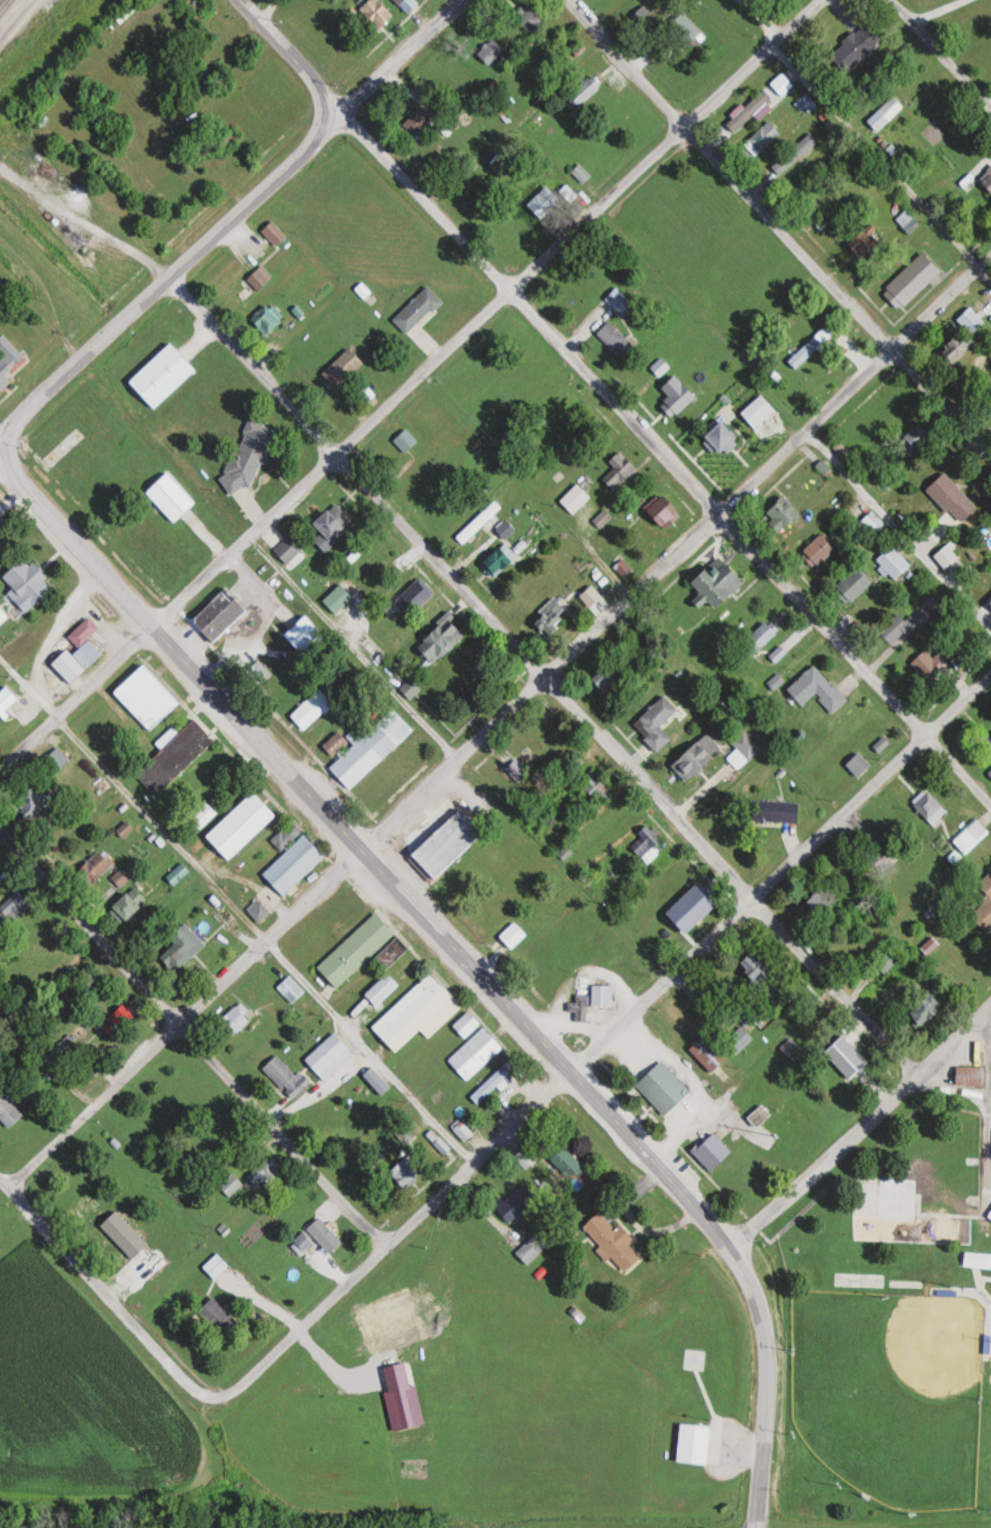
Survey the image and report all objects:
railway: (0, 0)
building: (408, 5)
railway: (6, 7)
building: (377, 14)
building: (645, 17)
road: (799, 18)
building: (532, 20)
building: (685, 29)
building: (338, 45)
building: (856, 47)
building: (491, 51)
road: (942, 51)
road: (290, 53)
road: (393, 61)
building: (783, 84)
building: (586, 91)
building: (806, 104)
building: (750, 111)
building: (885, 113)
building: (420, 121)
building: (765, 137)
building: (808, 142)
building: (780, 168)
building: (581, 173)
building: (987, 179)
building: (968, 182)
building: (545, 202)
road: (780, 226)
building: (274, 233)
building: (868, 242)
building: (261, 278)
road: (162, 281)
building: (913, 281)
building: (619, 301)
building: (419, 309)
building: (269, 318)
building: (972, 321)
building: (617, 339)
building: (959, 346)
building: (810, 347)
building: (9, 361)
building: (163, 375)
building: (680, 399)
road: (389, 401)
building: (759, 410)
building: (919, 434)
building: (723, 438)
building: (405, 442)
road: (4, 450)
road: (663, 452)
road: (4, 453)
building: (250, 456)
building: (620, 469)
building: (172, 496)
building: (577, 498)
building: (954, 498)
building: (665, 510)
building: (784, 513)
building: (481, 520)
building: (334, 525)
building: (870, 525)
road: (896, 527)
building: (506, 528)
building: (289, 549)
building: (820, 550)
building: (947, 557)
building: (500, 560)
building: (895, 562)
building: (31, 580)
building: (719, 582)
building: (855, 584)
building: (535, 586)
building: (418, 594)
building: (338, 598)
building: (220, 613)
building: (552, 614)
building: (3, 615)
road: (487, 616)
building: (905, 624)
building: (767, 631)
building: (307, 635)
building: (442, 638)
road: (354, 647)
building: (80, 652)
building: (933, 665)
building: (609, 678)
building: (818, 688)
building: (148, 696)
building: (11, 704)
building: (313, 709)
road: (502, 720)
building: (658, 722)
building: (546, 734)
building: (990, 738)
building: (368, 748)
building: (744, 751)
building: (175, 755)
building: (699, 757)
building: (55, 761)
building: (860, 764)
building: (990, 772)
building: (597, 784)
building: (36, 800)
building: (929, 806)
building: (778, 811)
building: (244, 825)
building: (127, 829)
building: (970, 834)
building: (288, 836)
building: (445, 837)
building: (646, 844)
road: (363, 854)
building: (99, 865)
building: (294, 865)
building: (520, 867)
building: (179, 873)
building: (123, 876)
building: (674, 881)
building: (0, 884)
building: (828, 898)
building: (130, 905)
building: (695, 906)
building: (984, 906)
building: (14, 908)
building: (260, 910)
road: (237, 911)
building: (183, 947)
building: (358, 950)
building: (887, 962)
building: (758, 967)
building: (91, 981)
building: (291, 989)
building: (593, 1001)
building: (933, 1004)
building: (420, 1012)
building: (239, 1016)
building: (120, 1021)
building: (468, 1023)
road: (604, 1039)
road: (194, 1040)
building: (63, 1043)
building: (789, 1046)
building: (476, 1052)
building: (710, 1052)
building: (330, 1055)
building: (92, 1069)
building: (970, 1075)
building: (286, 1076)
building: (493, 1082)
road: (955, 1087)
building: (664, 1088)
building: (9, 1105)
building: (761, 1115)
road: (860, 1128)
building: (463, 1129)
building: (440, 1145)
building: (713, 1150)
building: (526, 1157)
building: (568, 1161)
building: (266, 1172)
building: (407, 1173)
building: (231, 1184)
building: (517, 1205)
building: (82, 1208)
building: (990, 1214)
building: (990, 1218)
building: (325, 1234)
building: (613, 1241)
building: (531, 1248)
building: (978, 1260)
building: (217, 1266)
building: (141, 1271)
road: (103, 1290)
building: (219, 1316)
road: (766, 1385)
park: (890, 1394)
building: (697, 1443)

